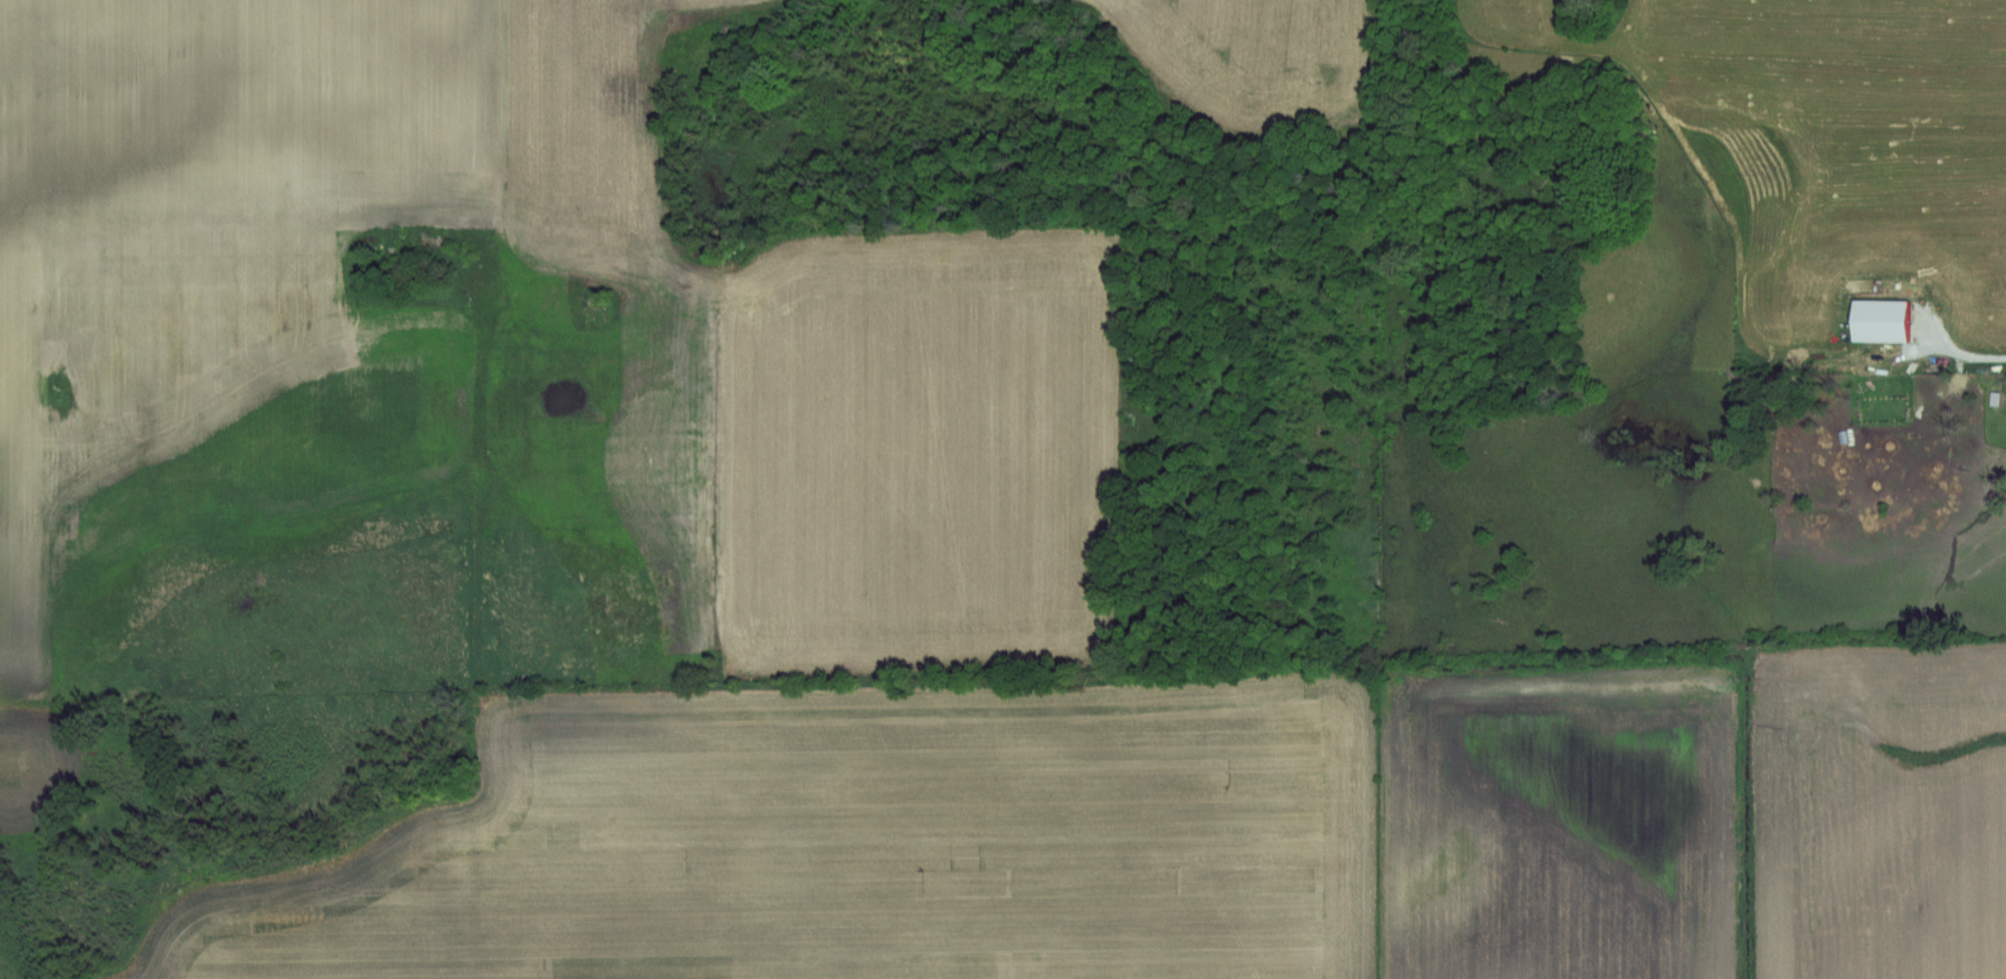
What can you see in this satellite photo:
building: (1993, 398)

